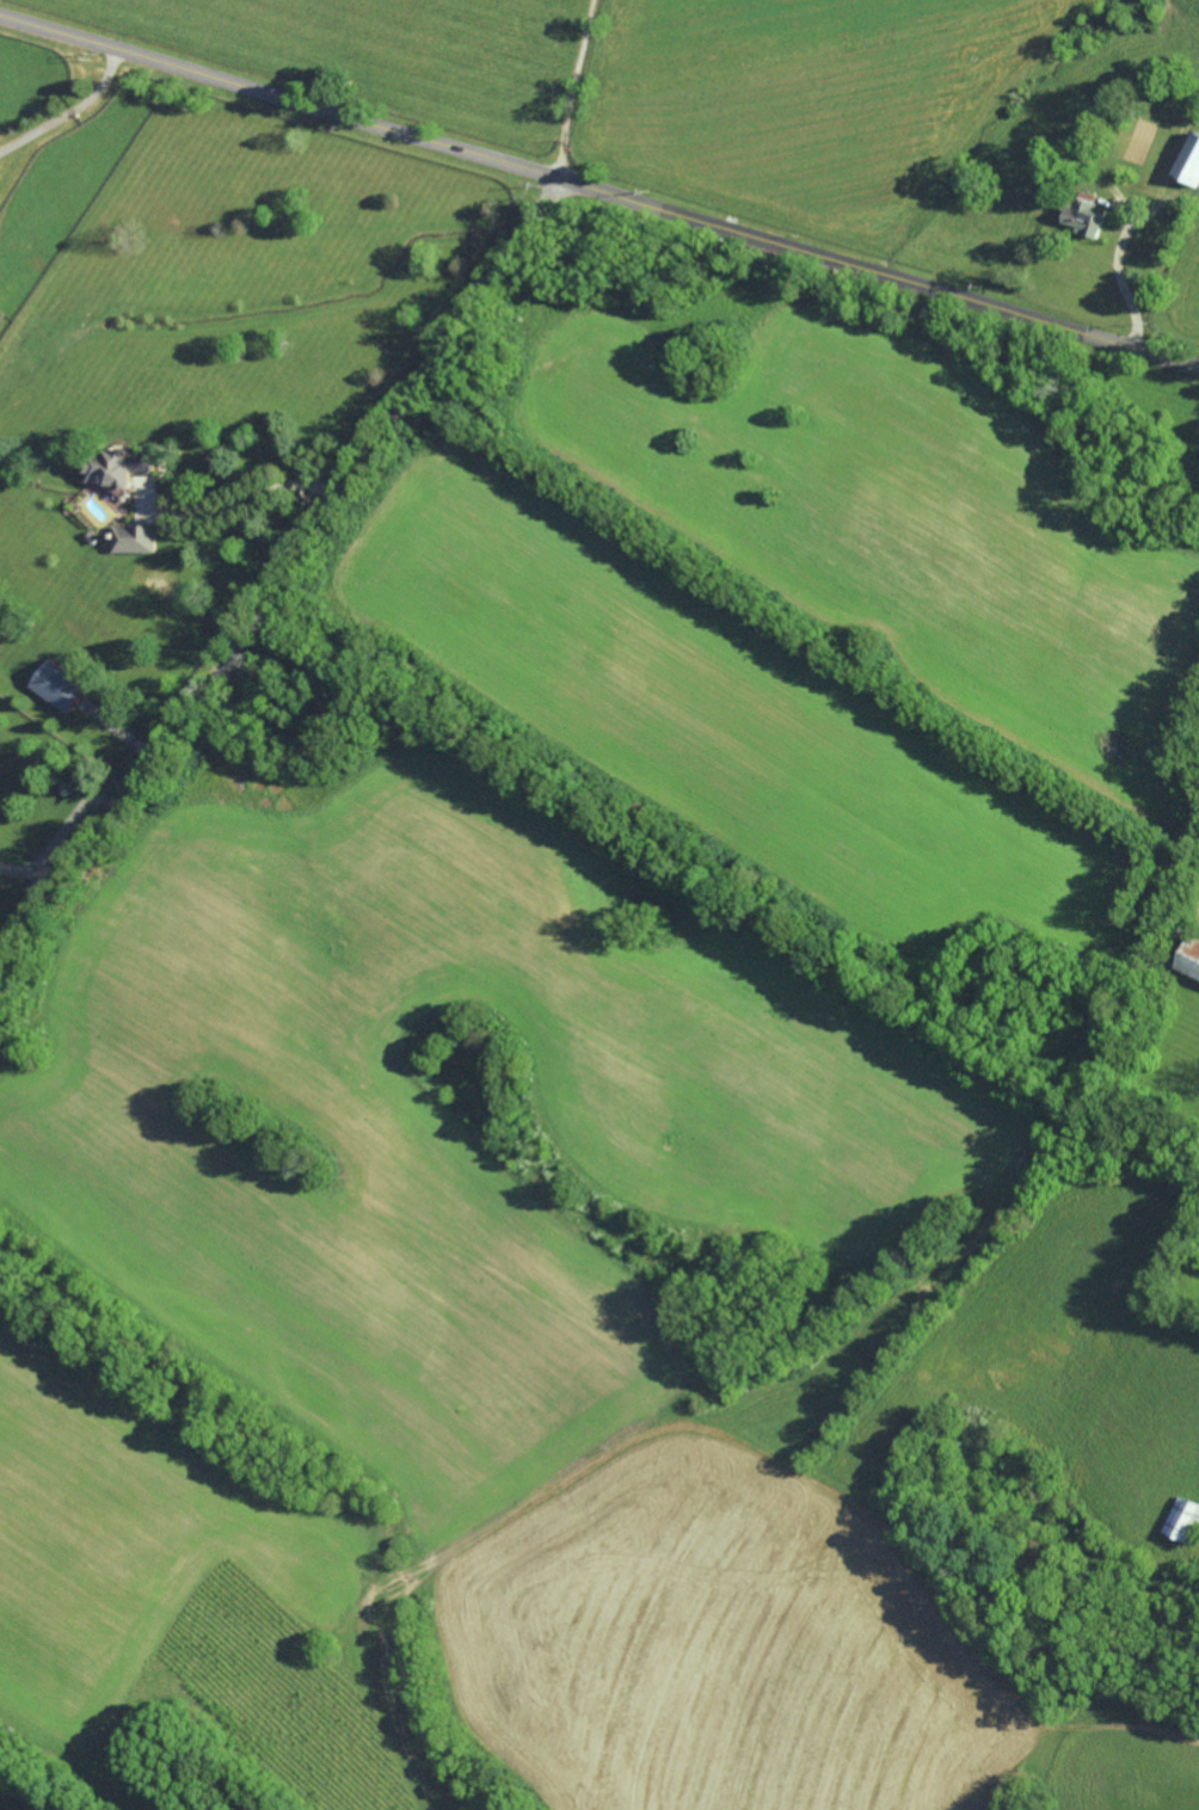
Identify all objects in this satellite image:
road: (579, 90)
road: (68, 111)
building: (1189, 161)
road: (599, 190)
building: (1087, 216)
road: (1125, 283)
building: (118, 468)
road: (247, 501)
building: (135, 540)
road: (281, 587)
building: (57, 685)
road: (62, 832)
building: (1191, 959)
building: (1185, 1520)

